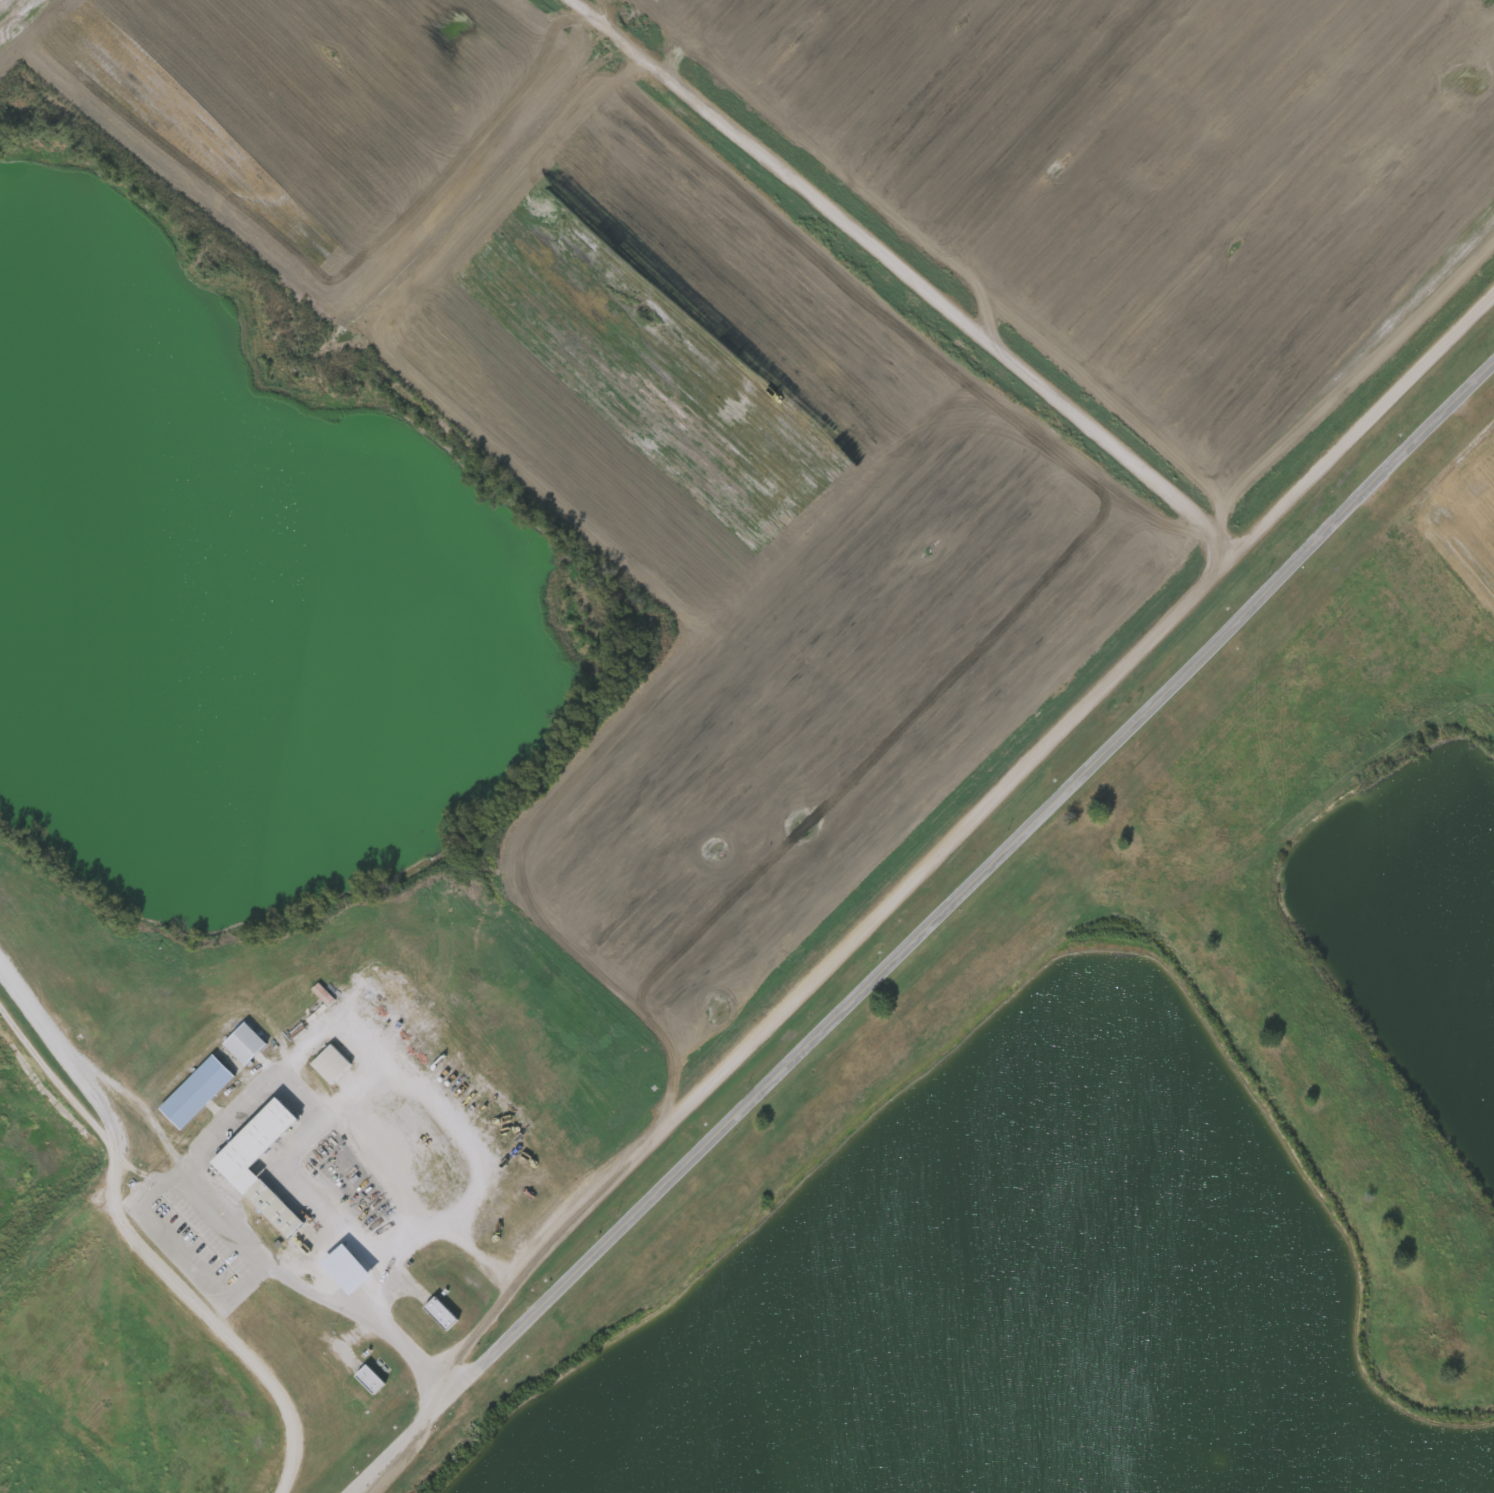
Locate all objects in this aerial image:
road: (906, 271)
wastewater plant: (747, 746)
road: (997, 776)
road: (931, 935)
road: (62, 1042)
building: (248, 1042)
building: (232, 1044)
building: (335, 1061)
building: (318, 1064)
road: (263, 1086)
building: (199, 1090)
building: (237, 1164)
building: (334, 1270)
road: (210, 1310)
building: (444, 1312)
building: (428, 1313)
building: (372, 1379)
building: (357, 1380)

